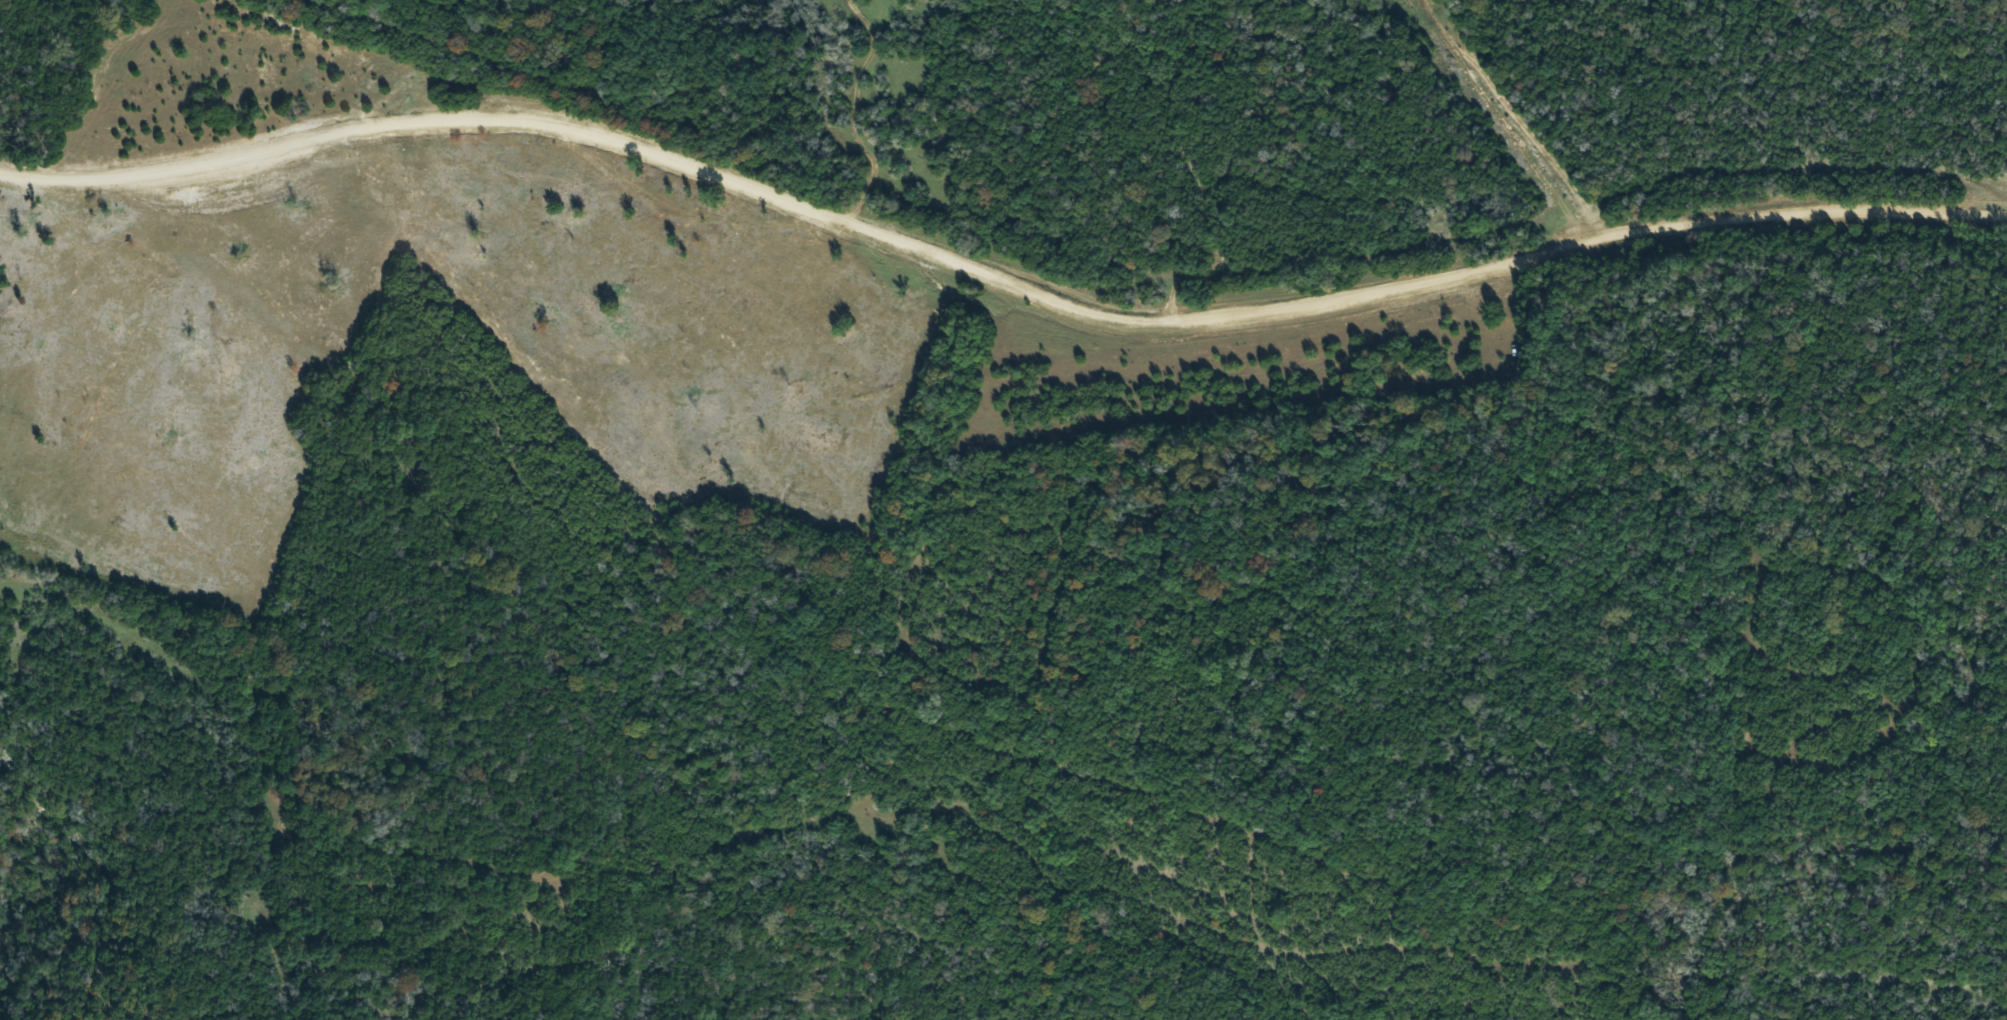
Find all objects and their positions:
road: (1502, 119)
road: (795, 206)
road: (1798, 217)

